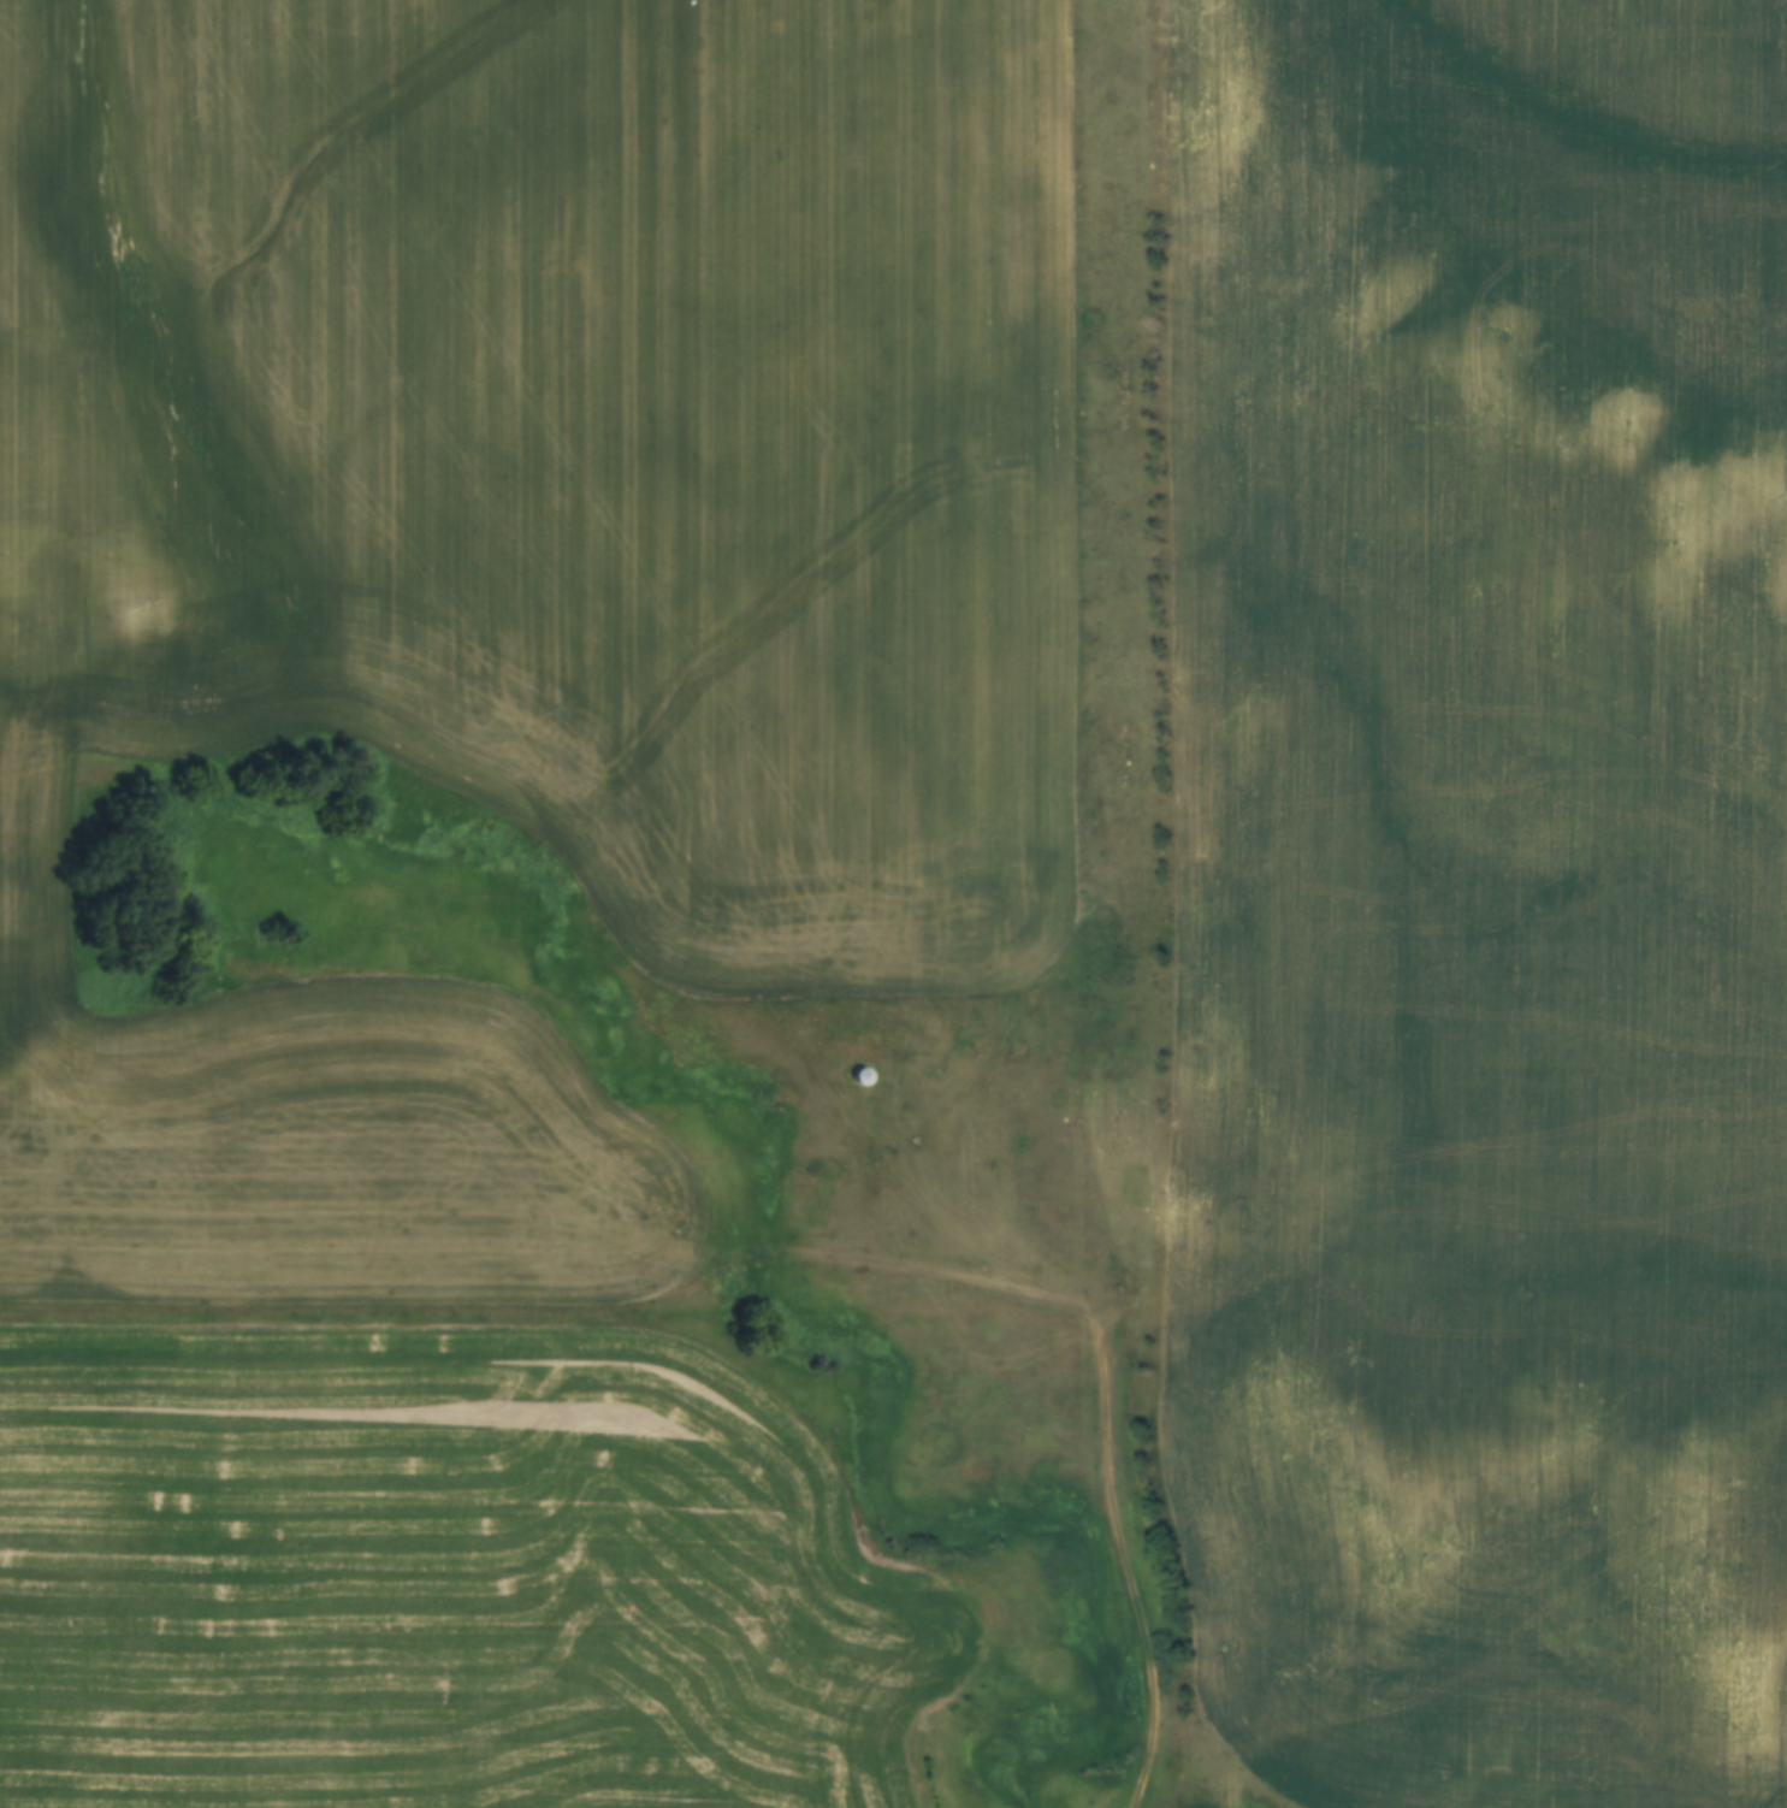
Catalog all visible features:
building: (864, 1077)
road: (1108, 1434)

